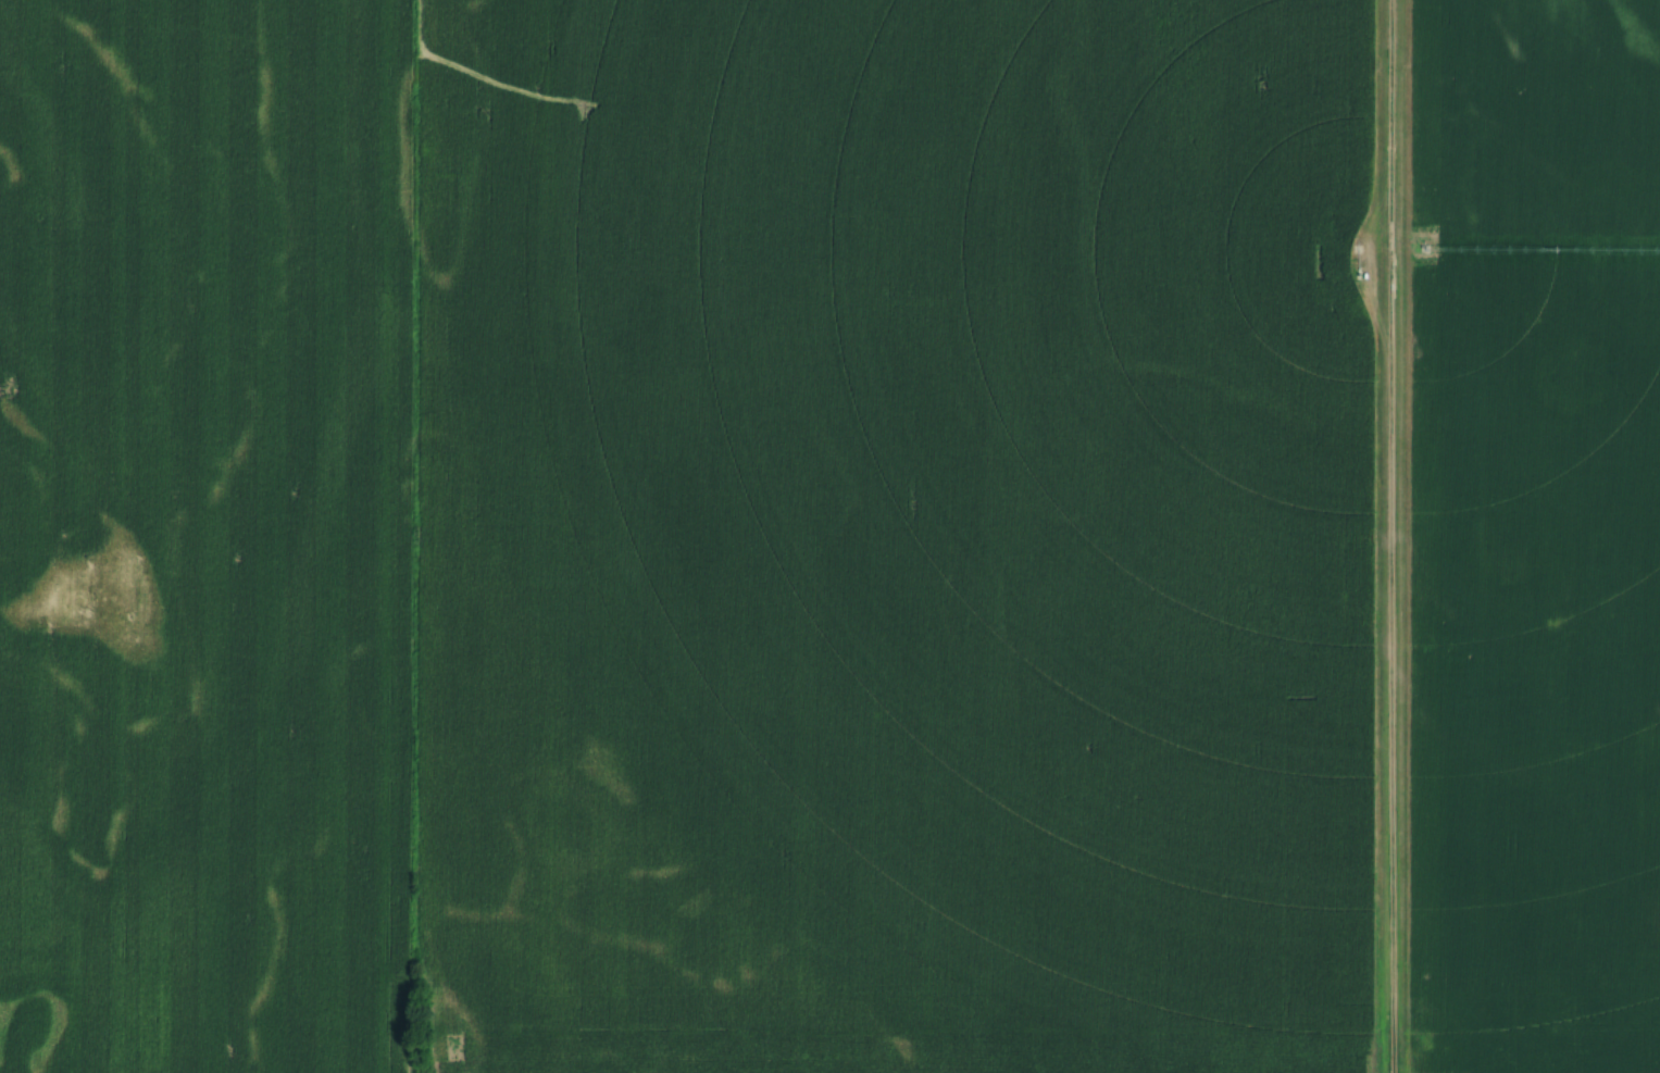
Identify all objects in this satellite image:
road: (1389, 536)

